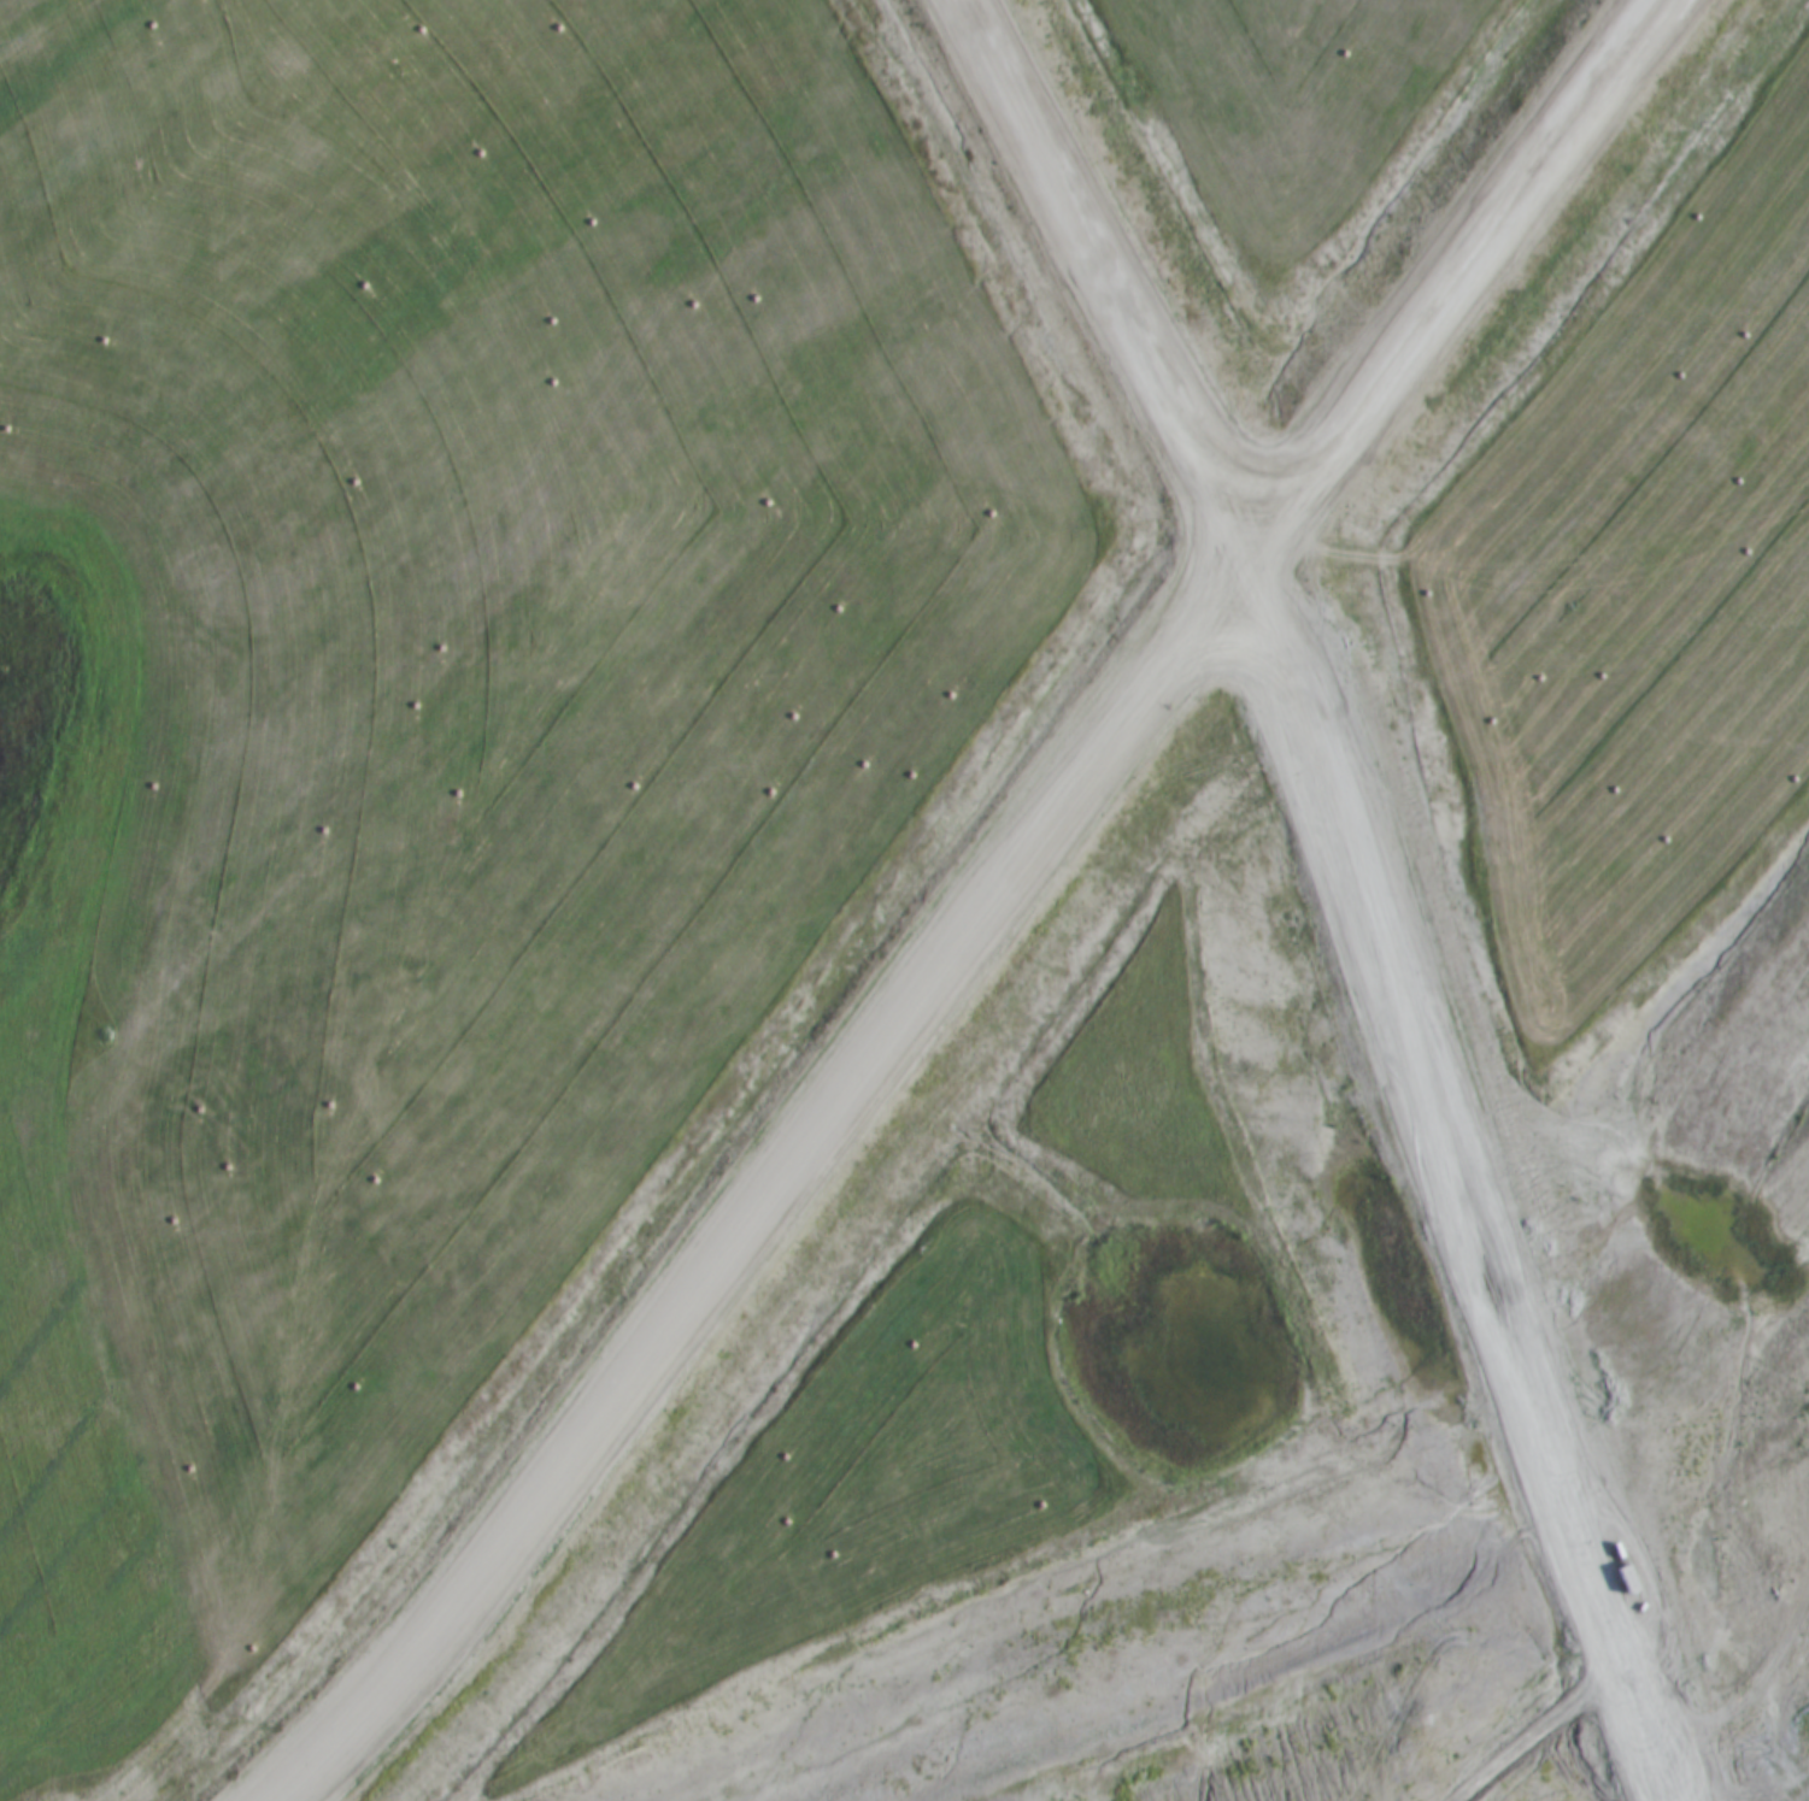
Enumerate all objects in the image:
quarry: (1087, 1012)

